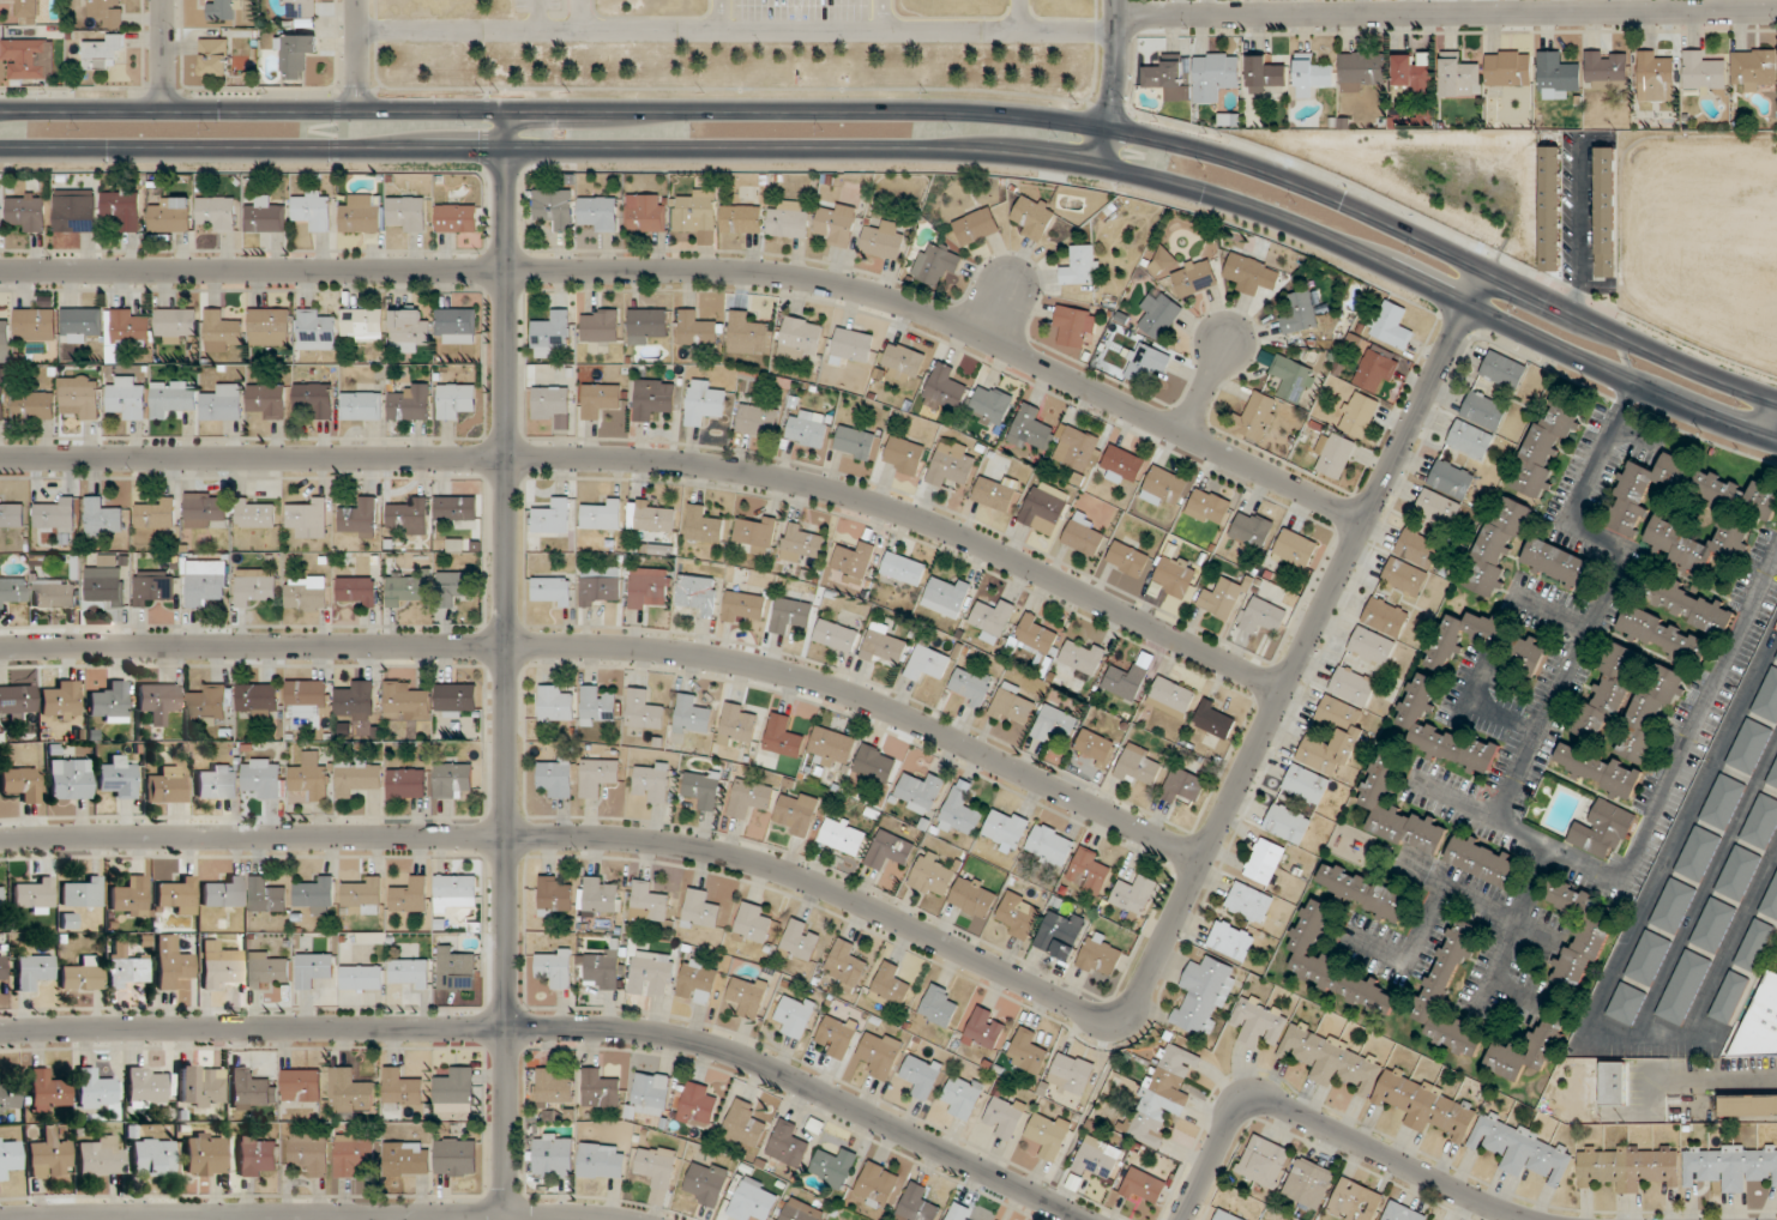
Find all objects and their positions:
building: (301, 8)
building: (223, 10)
building: (107, 12)
road: (1447, 12)
road: (536, 16)
road: (580, 16)
road: (719, 16)
road: (884, 16)
road: (1020, 16)
road: (736, 31)
building: (103, 52)
road: (162, 54)
building: (295, 54)
road: (356, 55)
building: (215, 56)
building: (26, 58)
building: (1508, 67)
building: (1607, 68)
building: (1753, 68)
building: (1363, 71)
building: (1703, 72)
building: (1312, 73)
building: (1265, 74)
building: (1459, 74)
building: (1215, 76)
building: (1556, 76)
building: (1170, 77)
building: (1412, 77)
building: (1656, 77)
road: (1113, 83)
road: (916, 110)
building: (1229, 119)
road: (916, 150)
building: (1552, 199)
building: (555, 209)
building: (124, 210)
building: (313, 210)
building: (29, 211)
building: (76, 211)
building: (697, 211)
building: (217, 212)
building: (408, 212)
building: (600, 212)
building: (646, 212)
building: (1606, 212)
building: (171, 215)
building: (0, 216)
building: (265, 217)
building: (1032, 217)
building: (457, 218)
building: (741, 219)
building: (790, 219)
building: (836, 227)
building: (976, 227)
road: (1578, 227)
road: (717, 231)
building: (884, 241)
building: (936, 262)
building: (1082, 266)
road: (706, 270)
building: (1246, 272)
building: (1195, 278)
road: (995, 306)
building: (1301, 312)
building: (1161, 314)
building: (80, 324)
building: (35, 325)
building: (174, 325)
building: (362, 325)
building: (456, 325)
building: (646, 325)
building: (1393, 325)
building: (269, 326)
building: (600, 326)
building: (1076, 326)
building: (125, 330)
building: (315, 330)
building: (409, 330)
building: (697, 330)
building: (221, 331)
building: (550, 333)
building: (4, 334)
building: (748, 334)
building: (800, 338)
building: (851, 344)
building: (902, 362)
building: (1149, 362)
building: (1375, 370)
building: (1504, 370)
building: (1293, 379)
road: (1204, 387)
building: (945, 389)
building: (126, 398)
building: (171, 398)
building: (314, 398)
building: (600, 398)
building: (653, 398)
building: (80, 399)
building: (2, 400)
building: (267, 400)
building: (456, 400)
building: (223, 403)
building: (410, 403)
building: (550, 403)
building: (704, 403)
building: (992, 404)
building: (34, 405)
building: (362, 405)
building: (1484, 410)
building: (1357, 415)
building: (1258, 416)
building: (757, 421)
road: (1772, 421)
building: (808, 429)
building: (1470, 440)
building: (1058, 441)
building: (855, 442)
building: (1546, 446)
building: (1335, 453)
building: (904, 455)
road: (662, 460)
building: (951, 464)
building: (1122, 464)
building: (1451, 479)
building: (1165, 484)
building: (1643, 491)
building: (995, 493)
building: (1737, 496)
building: (1044, 507)
building: (1209, 507)
building: (456, 508)
building: (1438, 508)
building: (205, 513)
building: (255, 514)
building: (12, 515)
building: (157, 515)
building: (603, 515)
building: (56, 517)
building: (409, 517)
building: (655, 517)
building: (104, 518)
building: (309, 518)
building: (553, 518)
building: (360, 519)
building: (703, 525)
building: (1252, 530)
building: (1084, 534)
building: (800, 543)
building: (1498, 544)
building: (1695, 544)
building: (1418, 548)
building: (1296, 549)
building: (1127, 558)
building: (854, 563)
building: (1555, 563)
building: (904, 568)
building: (1174, 575)
building: (1404, 576)
building: (206, 581)
building: (103, 584)
building: (601, 586)
building: (152, 587)
building: (453, 587)
building: (255, 588)
building: (408, 588)
building: (651, 588)
road: (1610, 590)
building: (12, 591)
building: (552, 591)
building: (356, 592)
building: (306, 593)
building: (698, 593)
building: (54, 594)
building: (946, 594)
building: (1223, 598)
building: (1688, 605)
building: (743, 606)
road: (1547, 606)
building: (790, 615)
building: (1263, 616)
building: (1386, 616)
building: (992, 620)
building: (1662, 635)
building: (836, 636)
building: (1036, 638)
building: (1487, 644)
building: (884, 645)
building: (1372, 646)
road: (620, 647)
building: (1083, 657)
building: (1776, 659)
road: (506, 662)
building: (927, 664)
building: (1127, 682)
building: (970, 686)
building: (1353, 686)
road: (1474, 691)
building: (307, 695)
building: (1609, 695)
building: (1171, 697)
building: (1767, 697)
building: (17, 700)
building: (60, 700)
building: (259, 700)
building: (456, 700)
building: (110, 701)
building: (158, 701)
building: (355, 701)
building: (209, 705)
building: (555, 705)
building: (1013, 705)
building: (597, 706)
building: (643, 712)
building: (1650, 714)
road: (1698, 714)
building: (692, 715)
road: (1501, 717)
building: (1216, 719)
building: (1055, 723)
building: (737, 725)
building: (1350, 731)
building: (1440, 731)
building: (784, 737)
building: (1749, 745)
building: (831, 747)
building: (1094, 747)
building: (874, 763)
building: (1138, 766)
building: (1600, 771)
building: (556, 775)
building: (600, 775)
building: (264, 777)
building: (357, 777)
building: (1772, 777)
building: (119, 778)
building: (311, 778)
building: (70, 779)
building: (453, 779)
building: (218, 781)
building: (651, 781)
building: (22, 783)
building: (406, 783)
building: (1306, 784)
building: (168, 785)
building: (1183, 785)
building: (703, 787)
building: (918, 793)
building: (749, 798)
building: (1723, 802)
building: (960, 811)
building: (1398, 811)
building: (796, 814)
building: (1761, 822)
building: (1287, 823)
building: (1005, 829)
road: (1516, 829)
building: (1603, 832)
building: (843, 835)
building: (1050, 844)
building: (888, 851)
building: (1698, 853)
building: (1482, 860)
building: (1266, 862)
building: (1089, 870)
building: (1739, 874)
building: (933, 875)
building: (1365, 892)
building: (82, 893)
building: (223, 893)
building: (456, 893)
road: (1438, 893)
building: (317, 894)
building: (363, 894)
building: (1133, 895)
building: (34, 896)
building: (129, 896)
building: (179, 896)
building: (267, 896)
building: (410, 896)
building: (598, 896)
building: (555, 898)
building: (974, 898)
building: (0, 902)
building: (1249, 902)
building: (649, 905)
building: (1673, 906)
building: (700, 911)
building: (1017, 914)
building: (752, 924)
building: (1713, 925)
road: (1511, 928)
building: (1060, 934)
building: (1592, 935)
building: (800, 940)
building: (1231, 941)
building: (1754, 944)
building: (1306, 954)
building: (1101, 955)
road: (971, 958)
building: (1649, 958)
building: (174, 964)
building: (845, 965)
building: (2, 966)
building: (219, 966)
building: (127, 967)
building: (453, 967)
building: (555, 967)
building: (267, 968)
building: (314, 970)
building: (602, 970)
building: (34, 971)
building: (653, 972)
building: (409, 973)
building: (83, 974)
building: (362, 977)
building: (697, 980)
building: (890, 984)
building: (1683, 988)
building: (1448, 993)
building: (747, 995)
road: (1516, 995)
building: (1205, 996)
building: (1729, 997)
building: (1626, 1004)
building: (938, 1008)
building: (795, 1014)
building: (1259, 1021)
building: (1760, 1022)
road: (562, 1028)
building: (988, 1032)
building: (836, 1035)
building: (1543, 1046)
building: (1028, 1051)
building: (880, 1053)
building: (921, 1074)
building: (1071, 1074)
road: (1673, 1077)
building: (1380, 1082)
building: (1614, 1083)
building: (201, 1086)
building: (301, 1086)
building: (146, 1087)
building: (253, 1088)
building: (600, 1088)
building: (95, 1089)
building: (400, 1089)
building: (554, 1089)
building: (456, 1091)
building: (49, 1092)
building: (350, 1092)
building: (649, 1093)
building: (1161, 1094)
building: (963, 1095)
building: (8, 1099)
building: (698, 1105)
building: (1748, 1105)
building: (1005, 1116)
building: (745, 1125)
road: (1326, 1129)
building: (1049, 1134)
building: (788, 1144)
building: (1522, 1148)
building: (309, 1152)
building: (50, 1154)
building: (206, 1154)
building: (354, 1154)
building: (254, 1155)
building: (554, 1155)
building: (10, 1156)
building: (100, 1156)
building: (153, 1156)
building: (457, 1156)
building: (408, 1159)
building: (1095, 1160)
building: (602, 1161)
building: (1264, 1161)
building: (1730, 1165)
building: (1630, 1166)
building: (833, 1167)
building: (657, 1172)
building: (707, 1182)
building: (1309, 1183)
building: (879, 1185)
building: (1144, 1188)
building: (753, 1200)
building: (1355, 1202)
building: (917, 1204)
building: (801, 1210)
building: (1402, 1212)
building: (960, 1213)
road: (309, 1214)
building: (1227, 1215)
building: (831, 1219)

